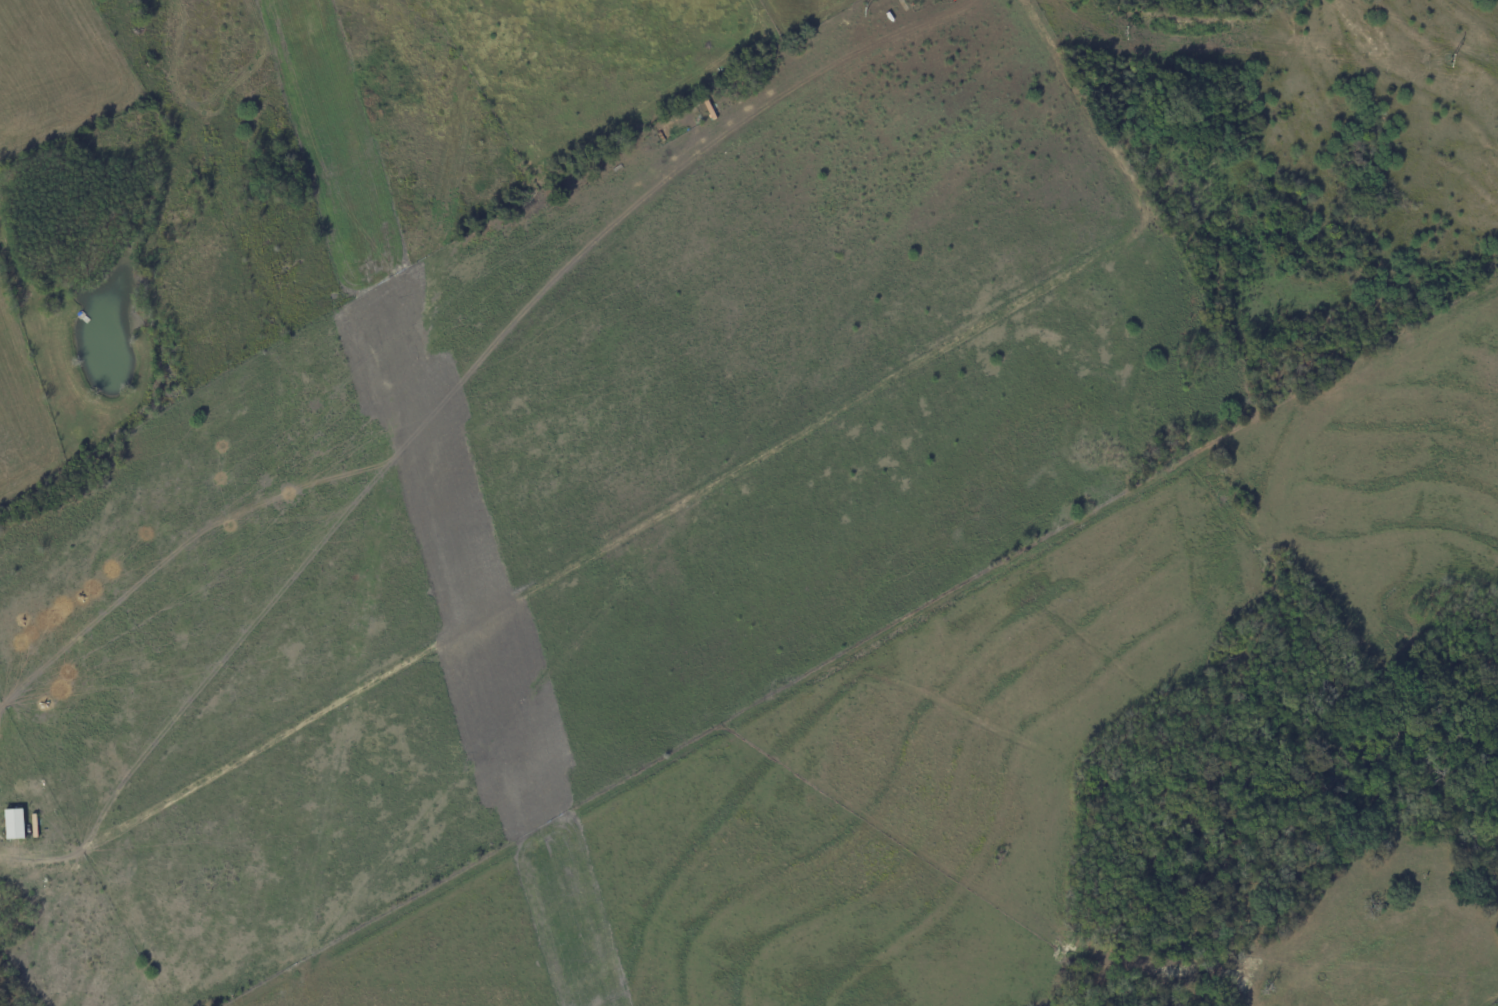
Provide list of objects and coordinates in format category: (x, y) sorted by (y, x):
power tower: (864, 11)
power tower: (1125, 34)
power tower: (1455, 61)
road: (688, 499)
building: (13, 822)

